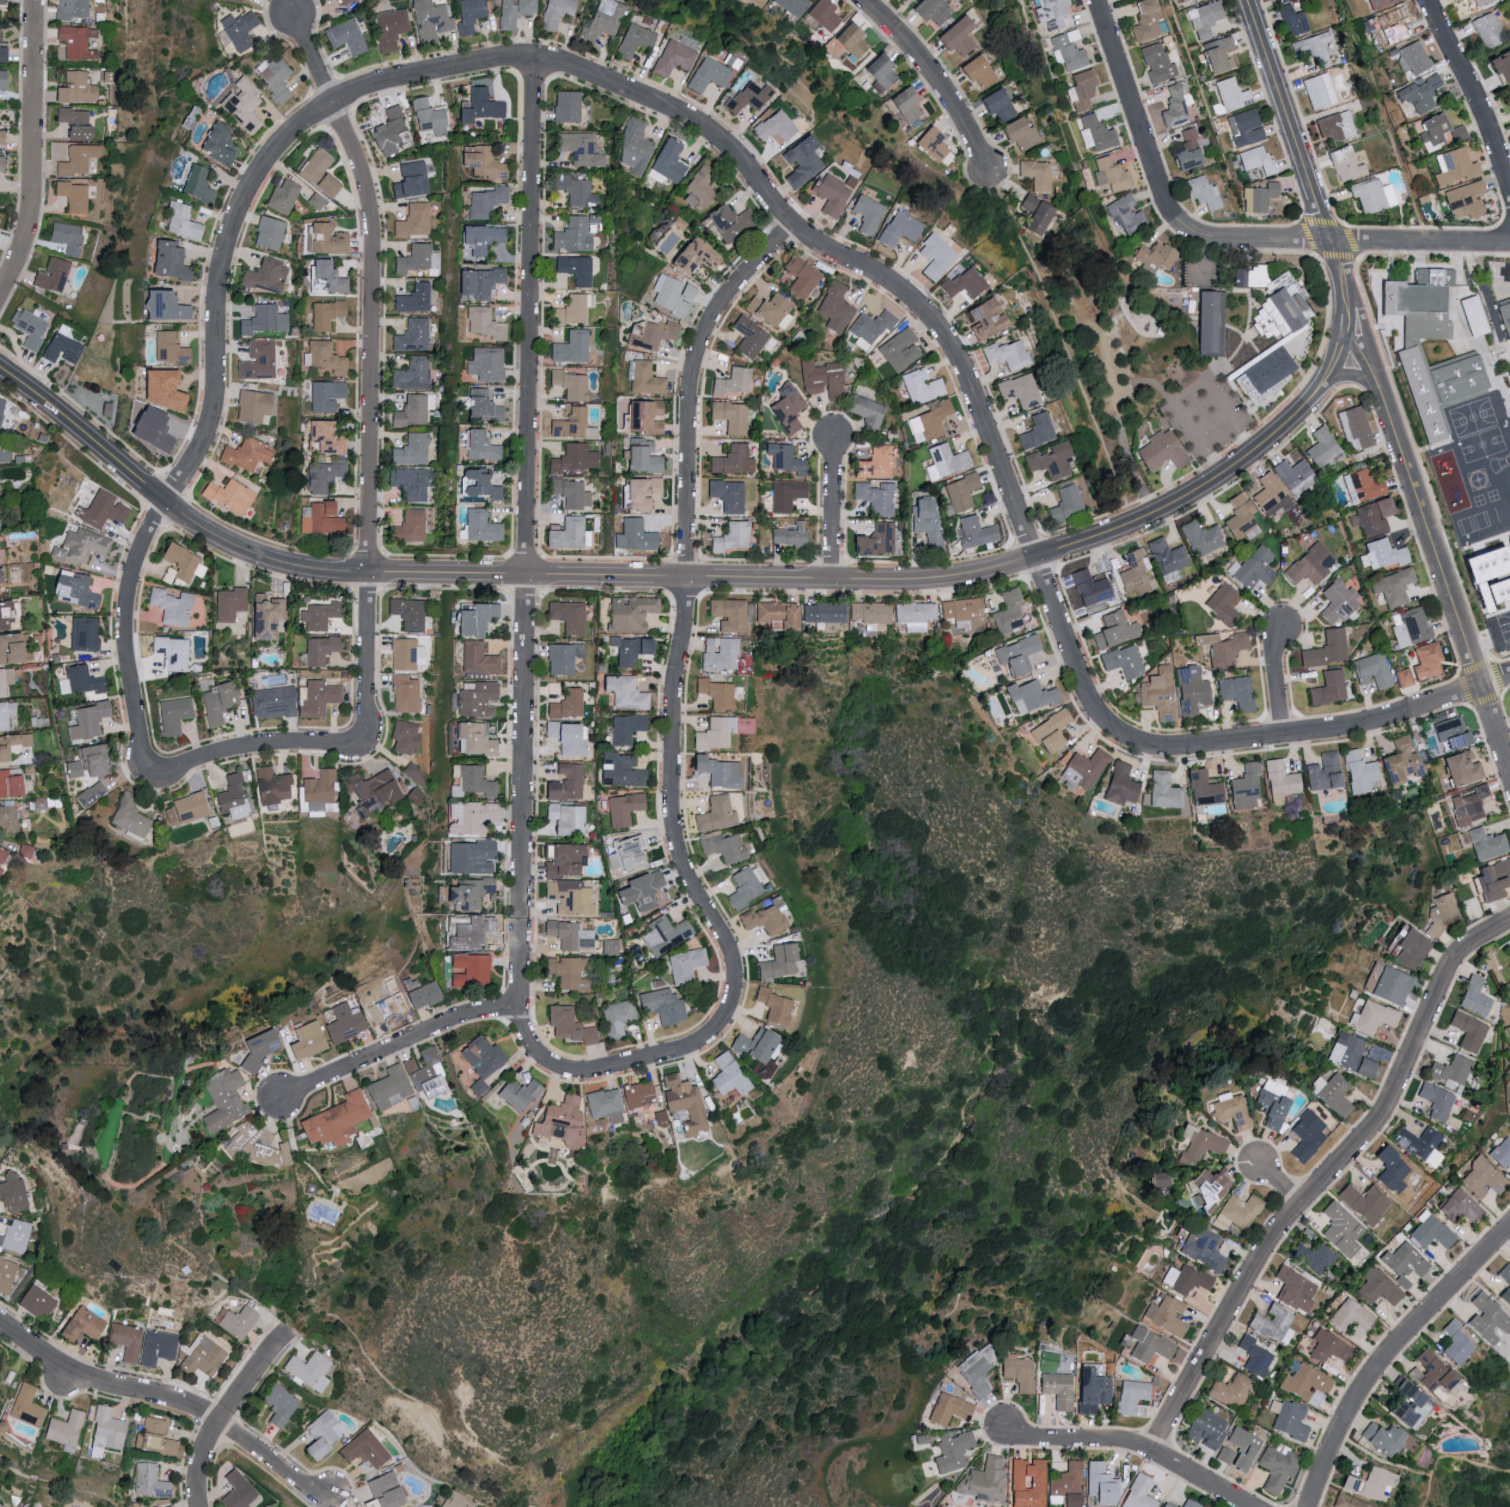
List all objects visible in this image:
building: (910, 0)
building: (1454, 0)
building: (234, 1)
building: (344, 1)
building: (1481, 1)
building: (4, 2)
building: (1379, 3)
building: (787, 5)
building: (75, 9)
building: (930, 10)
building: (511, 12)
building: (553, 12)
building: (1051, 12)
building: (467, 14)
building: (821, 14)
building: (428, 19)
building: (1202, 19)
building: (1292, 19)
building: (599, 20)
building: (1145, 20)
building: (1394, 25)
building: (389, 28)
building: (236, 29)
building: (1487, 30)
building: (345, 36)
building: (955, 36)
building: (631, 40)
building: (848, 40)
building: (78, 41)
building: (1312, 47)
building: (4, 50)
building: (1066, 50)
building: (1215, 54)
building: (1411, 57)
building: (671, 58)
building: (1156, 62)
building: (1500, 66)
building: (878, 70)
building: (975, 70)
building: (706, 74)
road: (934, 76)
building: (273, 77)
building: (5, 79)
building: (74, 88)
building: (1318, 90)
building: (1509, 90)
building: (1419, 93)
road: (1474, 94)
building: (1230, 95)
building: (745, 97)
building: (904, 104)
building: (478, 106)
building: (565, 106)
building: (996, 106)
building: (1175, 106)
building: (240, 108)
building: (70, 115)
road: (1137, 116)
building: (426, 117)
road: (1287, 120)
building: (1334, 125)
building: (772, 127)
building: (1243, 128)
building: (1433, 128)
building: (76, 132)
building: (389, 132)
building: (1017, 132)
building: (1094, 133)
building: (1458, 133)
building: (3, 135)
building: (930, 143)
building: (215, 144)
building: (633, 146)
road: (30, 147)
building: (578, 149)
building: (58, 151)
building: (1186, 151)
building: (76, 159)
building: (666, 160)
building: (1255, 160)
building: (480, 161)
building: (798, 162)
building: (3, 164)
building: (1343, 164)
building: (1453, 167)
building: (317, 172)
building: (1035, 174)
building: (1110, 174)
building: (409, 179)
building: (196, 184)
road: (763, 186)
building: (697, 187)
building: (575, 191)
building: (1202, 192)
building: (831, 193)
building: (1371, 195)
building: (72, 196)
building: (281, 196)
building: (1260, 197)
building: (1463, 200)
building: (315, 201)
building: (484, 201)
building: (865, 213)
building: (1125, 213)
building: (1034, 214)
building: (412, 220)
building: (728, 221)
building: (179, 222)
building: (896, 229)
building: (267, 233)
building: (572, 235)
building: (67, 237)
building: (478, 238)
road: (1256, 239)
building: (323, 240)
road: (1419, 240)
building: (691, 254)
building: (933, 256)
building: (1153, 256)
building: (165, 260)
road: (1336, 263)
building: (574, 269)
building: (51, 275)
building: (265, 276)
building: (800, 276)
building: (323, 277)
building: (1237, 277)
building: (475, 282)
building: (962, 283)
building: (670, 294)
building: (413, 298)
building: (1283, 302)
building: (160, 306)
building: (833, 307)
building: (572, 309)
building: (769, 310)
road: (1346, 311)
building: (1429, 311)
building: (323, 314)
building: (1473, 316)
building: (1507, 316)
building: (982, 318)
building: (262, 320)
building: (483, 323)
building: (1208, 323)
building: (870, 326)
building: (27, 328)
road: (1367, 332)
building: (651, 334)
building: (411, 335)
building: (750, 338)
building: (61, 346)
building: (570, 347)
building: (167, 348)
building: (898, 348)
building: (322, 357)
road: (1337, 358)
road: (1364, 358)
building: (257, 360)
building: (483, 363)
building: (1508, 369)
road: (370, 373)
building: (411, 374)
building: (1262, 375)
road: (1352, 377)
building: (642, 378)
building: (820, 378)
building: (732, 382)
building: (568, 384)
building: (920, 386)
building: (156, 389)
building: (1447, 392)
building: (322, 394)
building: (0, 400)
road: (1217, 403)
building: (251, 405)
building: (480, 405)
building: (785, 408)
building: (864, 409)
road: (1179, 409)
building: (729, 416)
building: (933, 419)
building: (140, 423)
building: (570, 423)
building: (1354, 427)
road: (1122, 429)
building: (1035, 431)
road: (205, 432)
building: (321, 437)
building: (159, 442)
building: (478, 445)
building: (1322, 448)
building: (411, 450)
building: (1160, 450)
building: (5, 452)
building: (244, 454)
building: (639, 456)
building: (783, 458)
building: (573, 459)
building: (731, 461)
building: (945, 461)
building: (1050, 461)
building: (873, 463)
building: (1293, 476)
building: (321, 477)
building: (410, 484)
building: (478, 485)
building: (1362, 485)
building: (961, 491)
building: (639, 492)
building: (570, 493)
building: (785, 494)
building: (726, 495)
building: (1270, 495)
building: (228, 496)
building: (874, 497)
building: (1064, 504)
road: (832, 507)
building: (99, 510)
building: (1240, 517)
building: (1372, 517)
building: (316, 519)
building: (926, 521)
building: (408, 526)
building: (480, 526)
building: (974, 532)
building: (565, 534)
road: (525, 535)
building: (788, 535)
building: (633, 536)
building: (729, 537)
building: (1201, 538)
building: (873, 540)
building: (1476, 540)
building: (82, 545)
building: (1381, 554)
building: (1166, 556)
building: (181, 564)
building: (1309, 564)
building: (1252, 568)
building: (1135, 572)
road: (660, 574)
building: (1487, 576)
building: (0, 577)
road: (1443, 577)
building: (1392, 587)
building: (1089, 588)
building: (72, 589)
building: (1336, 602)
building: (228, 603)
building: (1221, 603)
building: (171, 606)
building: (819, 612)
building: (866, 612)
building: (1007, 612)
building: (407, 613)
building: (628, 613)
building: (962, 613)
building: (7, 614)
building: (263, 615)
building: (318, 615)
building: (727, 615)
building: (774, 615)
building: (912, 615)
building: (567, 616)
building: (471, 618)
building: (1411, 629)
building: (1114, 630)
building: (83, 634)
building: (1206, 639)
building: (9, 649)
building: (318, 649)
building: (1326, 649)
building: (628, 650)
building: (1226, 650)
building: (171, 652)
building: (717, 653)
building: (404, 654)
building: (1015, 655)
building: (562, 658)
building: (475, 659)
building: (1426, 660)
building: (1122, 661)
building: (1371, 671)
building: (1403, 678)
road: (1276, 679)
building: (4, 680)
building: (82, 680)
building: (1327, 688)
building: (1190, 690)
building: (622, 692)
building: (714, 693)
building: (1158, 693)
building: (1235, 693)
building: (1509, 693)
building: (404, 694)
building: (317, 697)
building: (1029, 697)
building: (474, 699)
building: (216, 702)
building: (272, 702)
building: (566, 705)
building: (6, 714)
building: (171, 715)
building: (87, 720)
building: (625, 728)
building: (1049, 731)
building: (713, 733)
building: (1449, 733)
building: (403, 737)
building: (567, 738)
building: (470, 739)
road: (674, 742)
road: (1216, 743)
building: (13, 744)
road: (257, 748)
building: (90, 761)
building: (1400, 762)
building: (1459, 768)
building: (71, 769)
building: (1083, 769)
building: (619, 771)
building: (716, 771)
building: (1323, 772)
building: (1358, 772)
building: (414, 773)
building: (1280, 779)
building: (563, 784)
building: (9, 785)
building: (271, 785)
building: (1119, 785)
building: (1202, 789)
building: (1244, 789)
building: (1163, 790)
building: (317, 792)
building: (371, 792)
building: (89, 793)
building: (231, 797)
building: (1468, 806)
building: (184, 808)
building: (623, 809)
building: (715, 814)
building: (128, 816)
building: (470, 817)
building: (566, 819)
building: (1484, 844)
building: (724, 847)
building: (2, 854)
building: (625, 854)
building: (467, 857)
building: (562, 860)
building: (0, 869)
building: (1491, 880)
building: (744, 886)
building: (638, 890)
building: (466, 894)
building: (570, 897)
building: (1442, 913)
building: (763, 920)
building: (468, 932)
building: (664, 934)
building: (568, 935)
building: (1509, 947)
building: (1411, 949)
building: (777, 962)
building: (1509, 964)
building: (684, 965)
building: (467, 970)
building: (564, 971)
building: (1387, 984)
building: (422, 995)
building: (1473, 997)
building: (661, 1006)
building: (771, 1006)
building: (383, 1008)
building: (615, 1017)
building: (1371, 1017)
building: (343, 1023)
building: (562, 1023)
building: (1468, 1032)
building: (588, 1036)
building: (303, 1041)
building: (751, 1046)
road: (398, 1048)
building: (256, 1049)
building: (1348, 1054)
building: (480, 1056)
building: (1449, 1070)
building: (423, 1074)
building: (726, 1076)
building: (387, 1088)
building: (517, 1094)
building: (637, 1094)
building: (1331, 1094)
building: (221, 1100)
building: (1435, 1101)
building: (682, 1103)
building: (1272, 1103)
building: (604, 1105)
building: (1230, 1111)
building: (334, 1120)
building: (560, 1123)
park: (865, 1128)
building: (1306, 1136)
building: (1197, 1145)
building: (1419, 1145)
building: (266, 1151)
building: (1501, 1153)
building: (1390, 1170)
building: (1481, 1178)
building: (1156, 1180)
road: (1324, 1181)
building: (1205, 1184)
road: (1281, 1186)
building: (14, 1192)
building: (1363, 1203)
building: (1458, 1206)
building: (1239, 1211)
building: (1340, 1229)
building: (1431, 1233)
building: (16, 1236)
building: (1201, 1248)
building: (1312, 1258)
building: (1403, 1262)
building: (8, 1274)
building: (1183, 1280)
building: (1377, 1287)
building: (1293, 1290)
building: (1506, 1291)
building: (40, 1301)
building: (1164, 1316)
building: (1350, 1316)
building: (1487, 1320)
building: (241, 1321)
building: (86, 1324)
building: (1272, 1324)
building: (127, 1340)
building: (1125, 1341)
building: (1455, 1343)
building: (1147, 1346)
building: (159, 1347)
building: (1327, 1347)
building: (1253, 1356)
building: (206, 1357)
road: (1391, 1357)
building: (312, 1370)
building: (974, 1372)
building: (1430, 1373)
building: (1018, 1375)
building: (1306, 1384)
building: (1057, 1390)
building: (1090, 1390)
building: (1230, 1391)
road: (168, 1397)
building: (1132, 1399)
building: (29, 1405)
building: (283, 1405)
building: (1406, 1407)
building: (947, 1409)
road: (227, 1414)
building: (1287, 1419)
building: (67, 1429)
building: (1204, 1429)
building: (109, 1431)
building: (326, 1433)
building: (158, 1437)
building: (1381, 1439)
road: (1130, 1446)
building: (367, 1449)
building: (1238, 1450)
building: (951, 1451)
road: (1463, 1462)
building: (1276, 1468)
building: (982, 1480)
building: (151, 1481)
building: (1026, 1483)
building: (1099, 1483)
building: (385, 1484)
building: (1066, 1484)
building: (1368, 1484)
building: (240, 1490)
building: (1137, 1492)
road: (1426, 1493)
park: (1501, 1495)
building: (1347, 1502)
building: (1189, 1503)
building: (2, 1505)
building: (1166, 1505)
building: (158, 1506)

